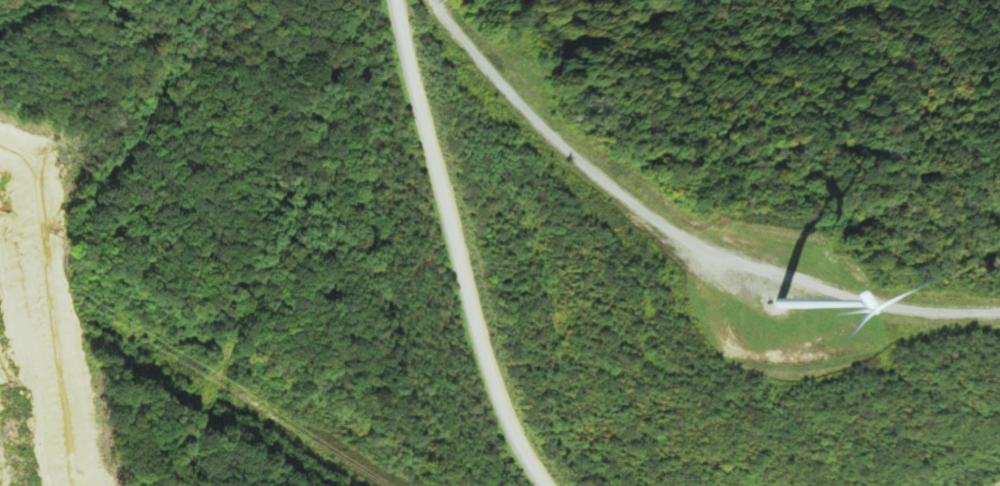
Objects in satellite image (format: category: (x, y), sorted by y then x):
road: (470, 239)
wind turbine: (780, 300)

